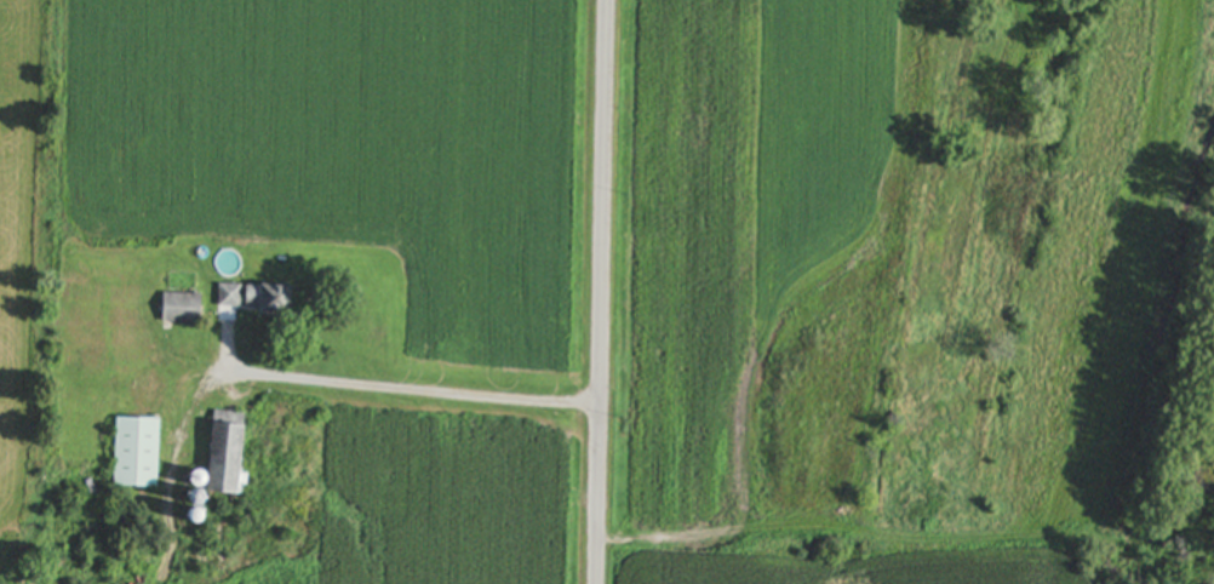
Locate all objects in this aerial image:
road: (596, 292)
building: (229, 299)
building: (265, 303)
building: (179, 311)
road: (417, 390)
building: (134, 456)
building: (224, 463)

